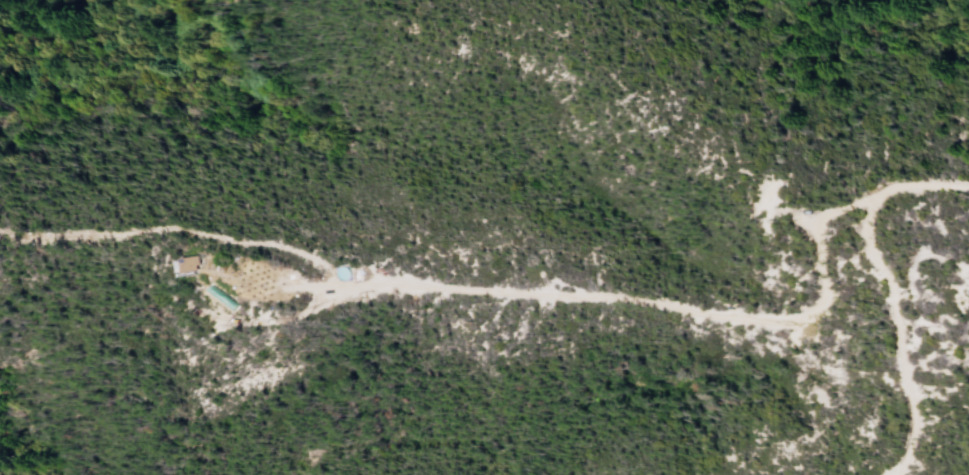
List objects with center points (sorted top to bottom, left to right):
building: (188, 265)
road: (893, 283)
road: (480, 289)
road: (267, 292)
road: (894, 469)

